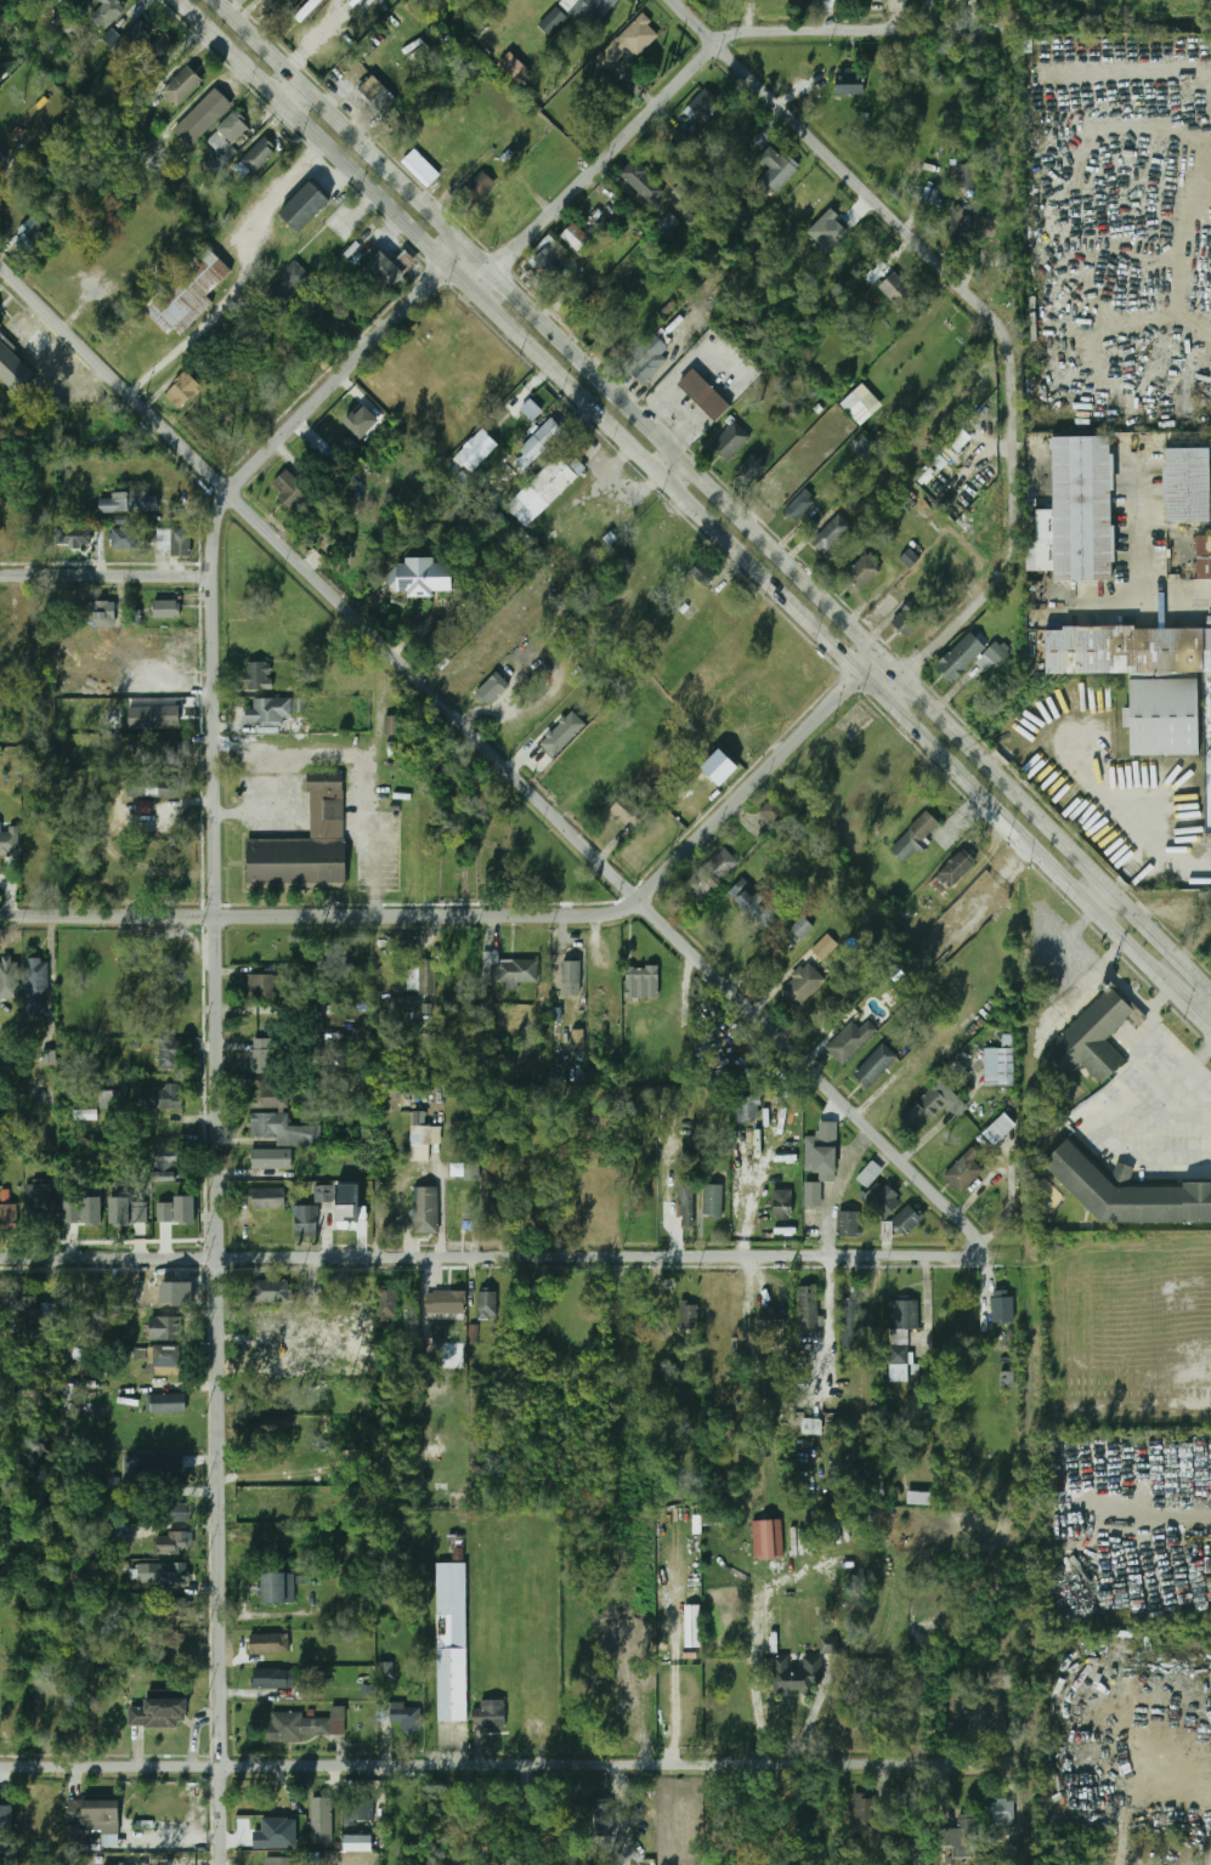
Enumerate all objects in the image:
building: (276, 6)
building: (596, 8)
building: (103, 10)
building: (307, 10)
building: (553, 21)
road: (860, 30)
building: (111, 36)
building: (129, 41)
building: (628, 44)
building: (160, 50)
building: (514, 68)
building: (2, 73)
building: (849, 84)
building: (180, 85)
road: (288, 91)
building: (379, 93)
building: (704, 106)
building: (202, 117)
building: (721, 127)
building: (686, 134)
building: (231, 137)
building: (258, 155)
building: (4, 160)
building: (421, 168)
road: (594, 169)
building: (776, 170)
building: (967, 176)
building: (643, 181)
building: (474, 189)
building: (804, 202)
building: (306, 206)
road: (362, 208)
building: (627, 221)
building: (961, 222)
building: (668, 223)
road: (905, 227)
building: (828, 231)
building: (33, 236)
building: (575, 237)
road: (1164, 251)
building: (548, 261)
building: (389, 270)
road: (242, 276)
building: (287, 283)
building: (895, 287)
building: (187, 291)
building: (0, 324)
building: (326, 324)
building: (646, 358)
building: (15, 367)
road: (528, 387)
building: (182, 390)
building: (696, 402)
building: (861, 404)
building: (531, 409)
building: (79, 421)
building: (362, 421)
building: (730, 440)
building: (541, 443)
building: (476, 449)
road: (674, 470)
building: (751, 471)
building: (551, 481)
building: (1188, 484)
building: (290, 489)
road: (715, 489)
road: (675, 493)
building: (129, 503)
building: (798, 505)
building: (1080, 509)
building: (832, 533)
building: (73, 535)
building: (123, 538)
building: (181, 543)
building: (910, 557)
building: (1204, 559)
road: (1138, 567)
building: (864, 571)
building: (702, 573)
road: (107, 576)
building: (421, 577)
road: (981, 606)
building: (166, 610)
building: (101, 612)
building: (911, 616)
building: (1128, 651)
building: (997, 653)
building: (961, 657)
building: (258, 676)
building: (492, 688)
building: (300, 704)
building: (268, 712)
building: (154, 716)
building: (1164, 718)
building: (392, 725)
building: (562, 733)
road: (345, 753)
building: (158, 754)
road: (499, 758)
road: (762, 773)
building: (153, 788)
building: (626, 811)
building: (773, 812)
building: (916, 838)
building: (9, 840)
building: (306, 843)
building: (719, 866)
building: (956, 868)
road: (1100, 894)
building: (753, 903)
road: (322, 916)
building: (802, 928)
building: (825, 947)
road: (1114, 953)
building: (7, 968)
building: (508, 969)
road: (53, 970)
building: (426, 976)
building: (571, 977)
building: (641, 982)
building: (802, 986)
building: (34, 987)
building: (262, 987)
road: (1131, 992)
road: (1161, 999)
road: (217, 1005)
road: (1192, 1009)
building: (578, 1041)
building: (850, 1041)
building: (1088, 1041)
building: (334, 1042)
building: (168, 1055)
building: (261, 1055)
road: (1198, 1061)
building: (875, 1066)
building: (998, 1066)
building: (113, 1092)
building: (266, 1094)
building: (159, 1098)
building: (924, 1109)
building: (747, 1110)
building: (86, 1115)
building: (282, 1129)
building: (998, 1129)
road: (1107, 1134)
building: (423, 1141)
building: (822, 1149)
building: (168, 1158)
building: (271, 1160)
building: (464, 1172)
building: (963, 1172)
building: (870, 1174)
road: (836, 1186)
building: (324, 1192)
building: (1127, 1192)
building: (813, 1195)
building: (685, 1197)
building: (268, 1198)
building: (713, 1200)
building: (881, 1200)
building: (40, 1201)
building: (781, 1204)
building: (72, 1207)
building: (91, 1211)
building: (128, 1211)
building: (177, 1211)
building: (426, 1211)
building: (463, 1212)
building: (6, 1213)
building: (907, 1219)
building: (306, 1220)
building: (848, 1224)
road: (483, 1254)
building: (268, 1292)
building: (386, 1303)
building: (443, 1303)
building: (487, 1305)
building: (808, 1306)
building: (1002, 1309)
building: (39, 1313)
building: (689, 1314)
building: (770, 1319)
building: (902, 1319)
building: (270, 1322)
building: (304, 1322)
building: (850, 1323)
building: (164, 1327)
building: (168, 1360)
building: (1007, 1379)
building: (170, 1404)
building: (266, 1425)
building: (811, 1425)
building: (164, 1466)
building: (875, 1484)
building: (918, 1498)
building: (180, 1510)
road: (1184, 1523)
building: (768, 1538)
building: (455, 1541)
building: (174, 1543)
building: (174, 1572)
building: (276, 1588)
building: (452, 1642)
building: (268, 1643)
building: (828, 1644)
building: (796, 1674)
building: (273, 1678)
building: (160, 1713)
building: (488, 1714)
building: (622, 1714)
building: (401, 1716)
building: (997, 1719)
building: (305, 1727)
road: (505, 1761)
building: (318, 1802)
building: (358, 1812)
building: (1002, 1812)
building: (91, 1813)
building: (866, 1814)
building: (601, 1819)
building: (6, 1829)
building: (276, 1833)
road: (176, 1836)
building: (960, 1841)
building: (358, 1843)
building: (281, 1860)
building: (103, 1864)

